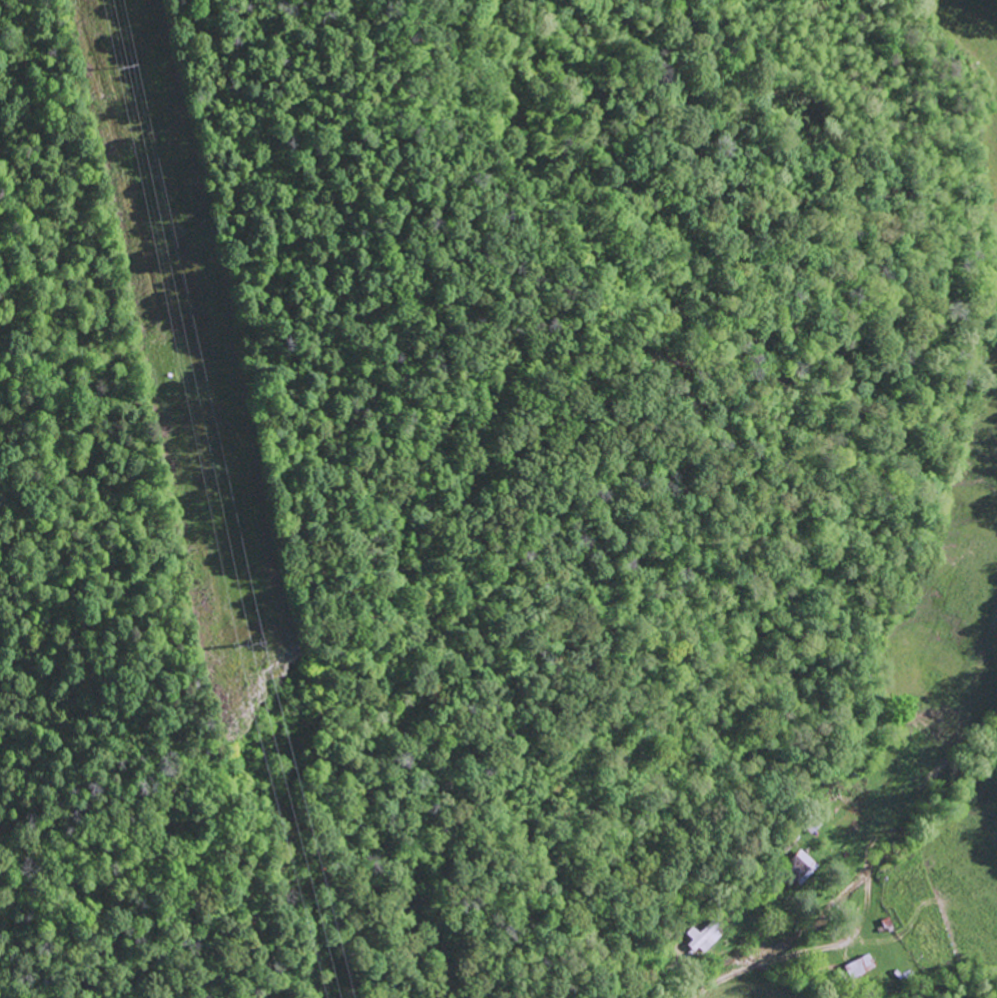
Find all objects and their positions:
road: (760, 961)
building: (856, 965)

